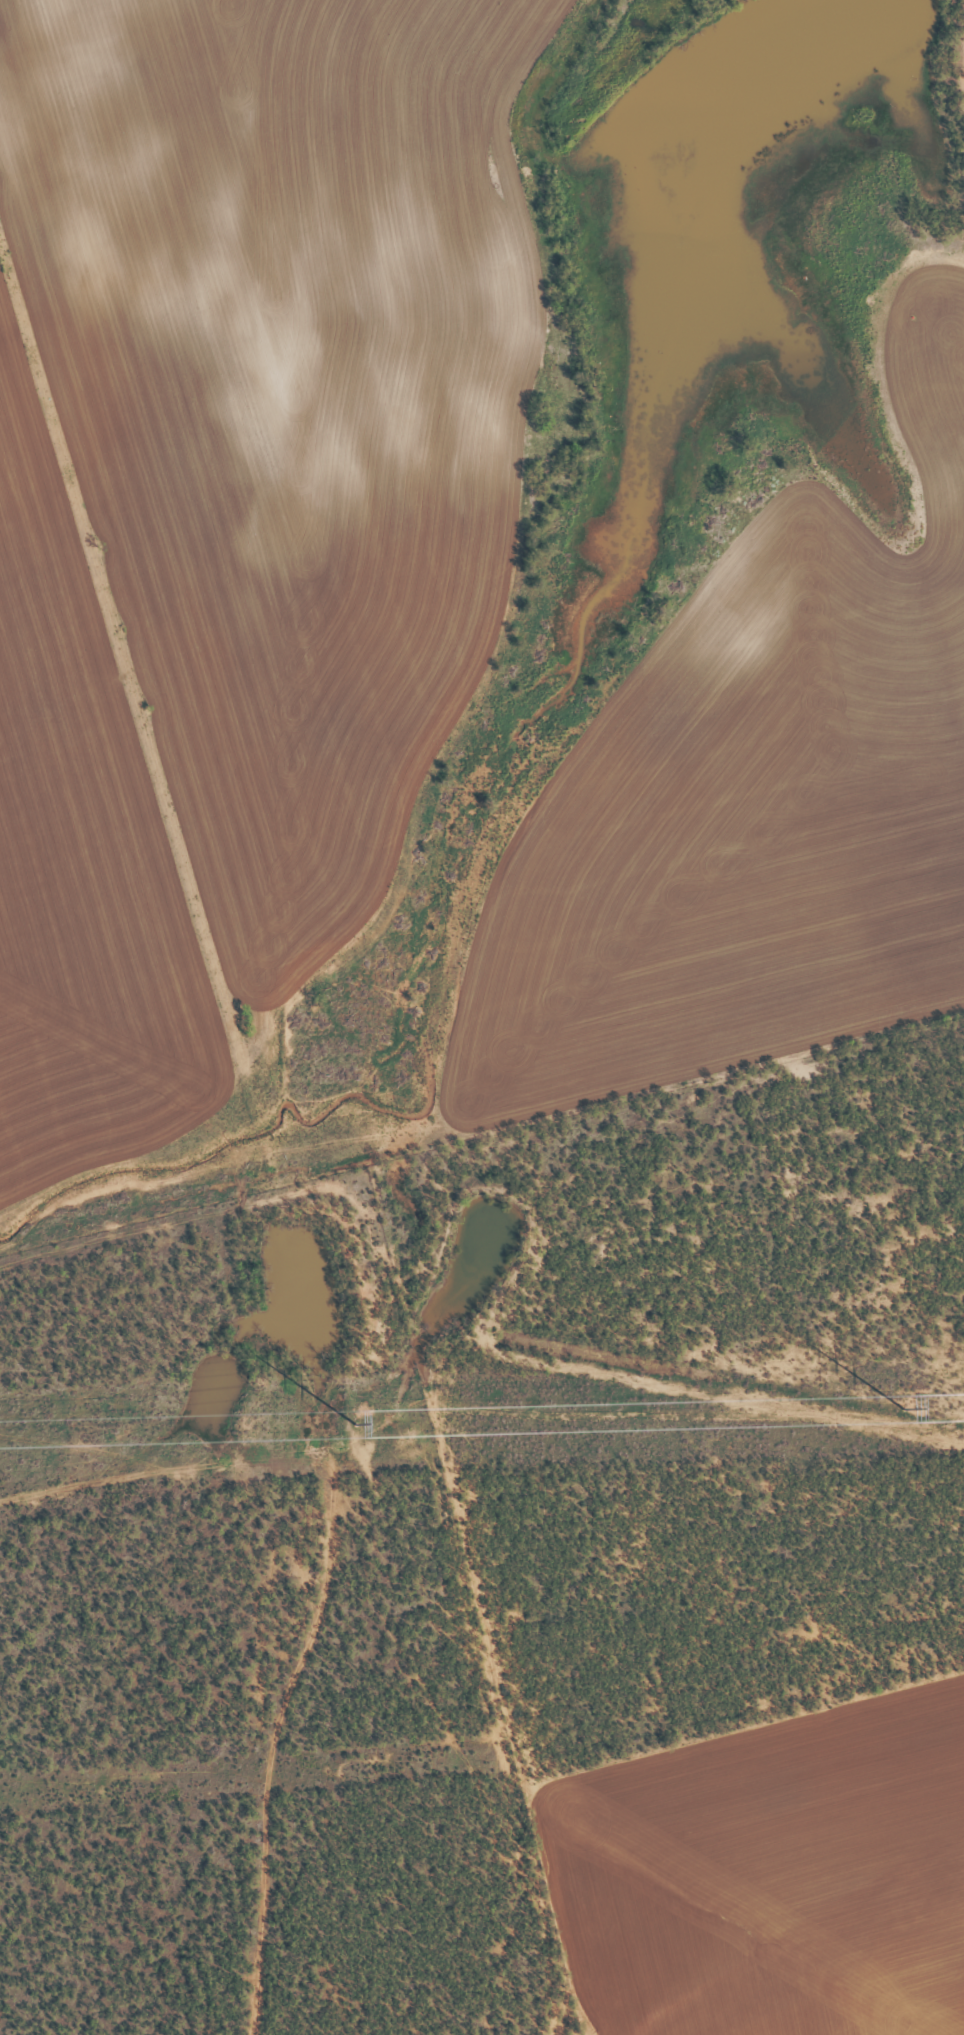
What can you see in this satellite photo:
power tower: (903, 1409)
power tower: (356, 1425)

